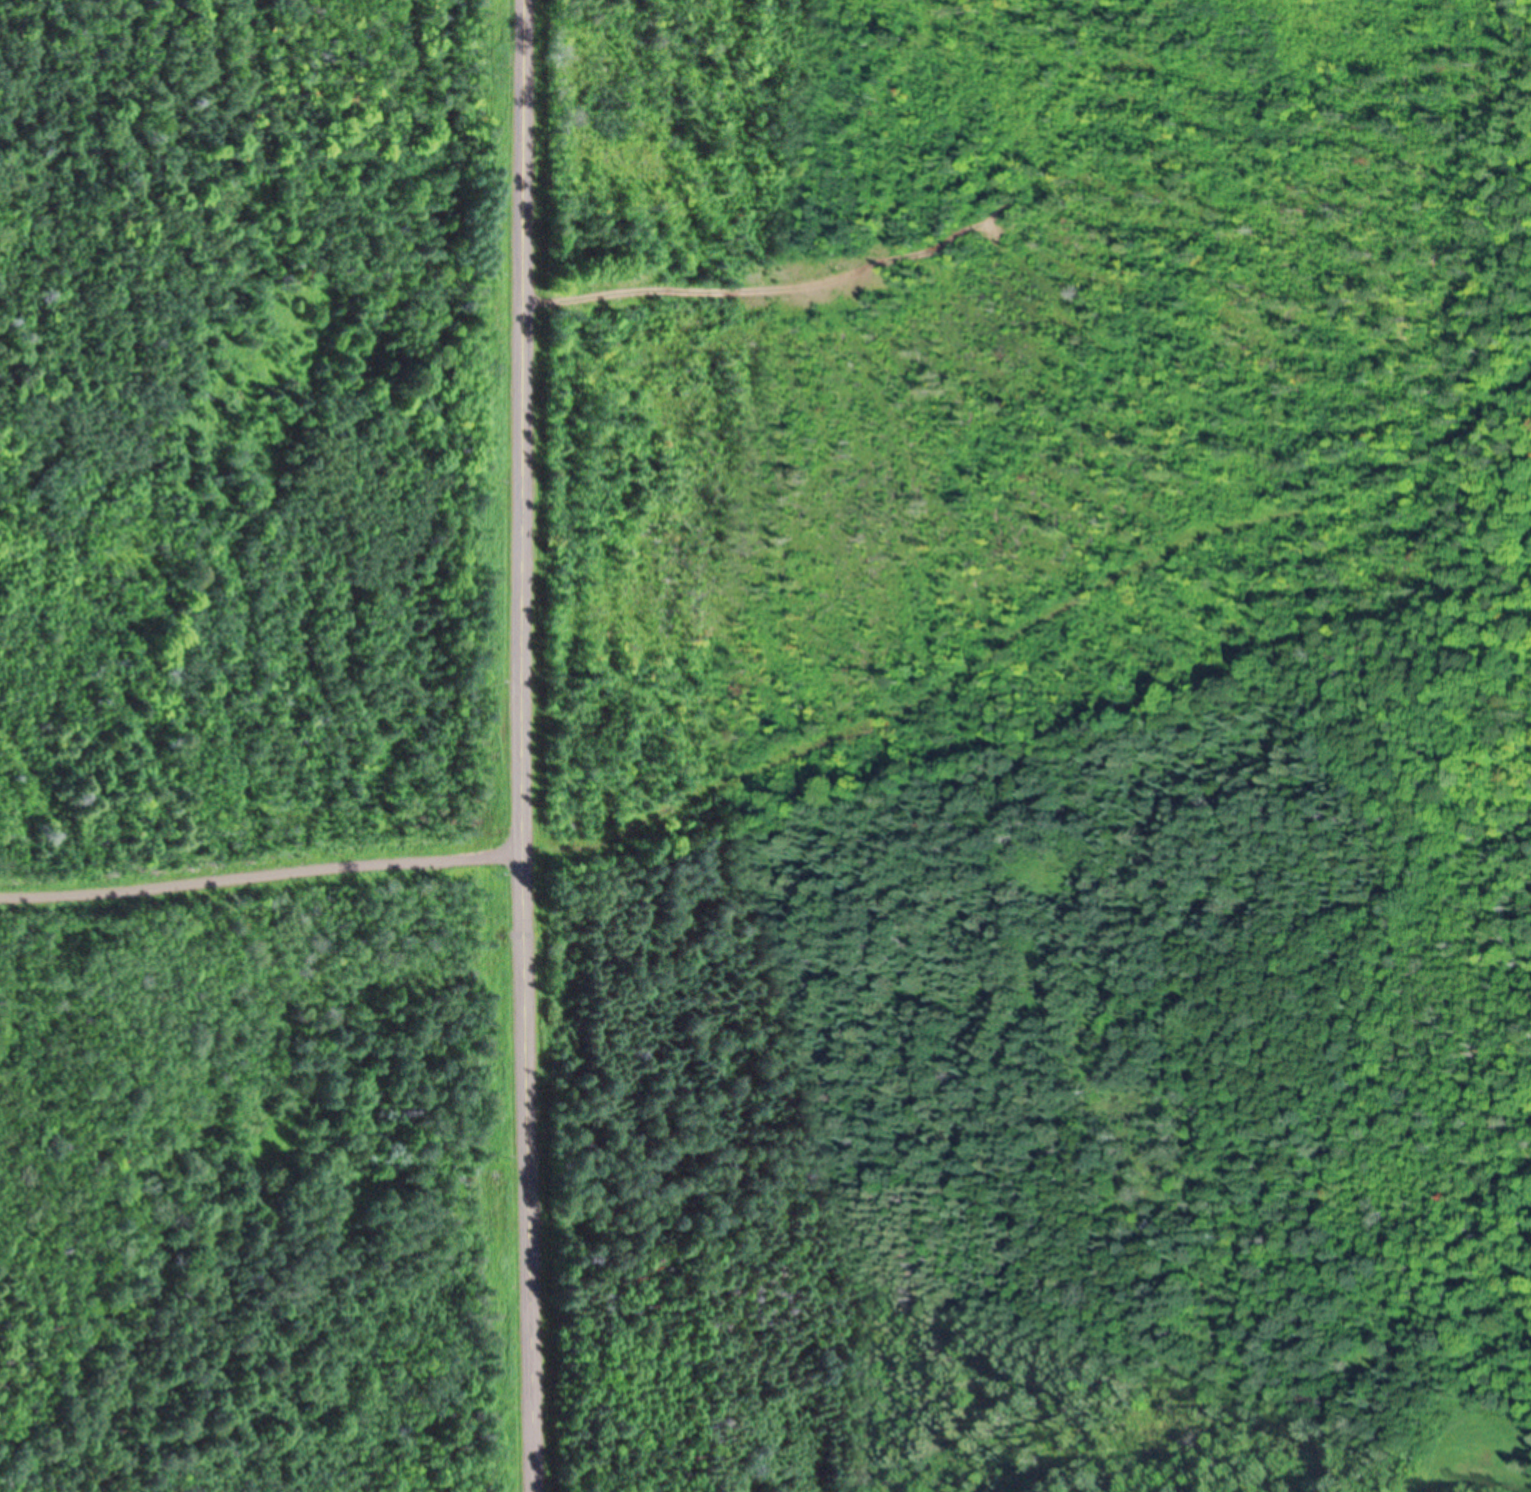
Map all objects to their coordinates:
road: (530, 746)
road: (264, 872)

